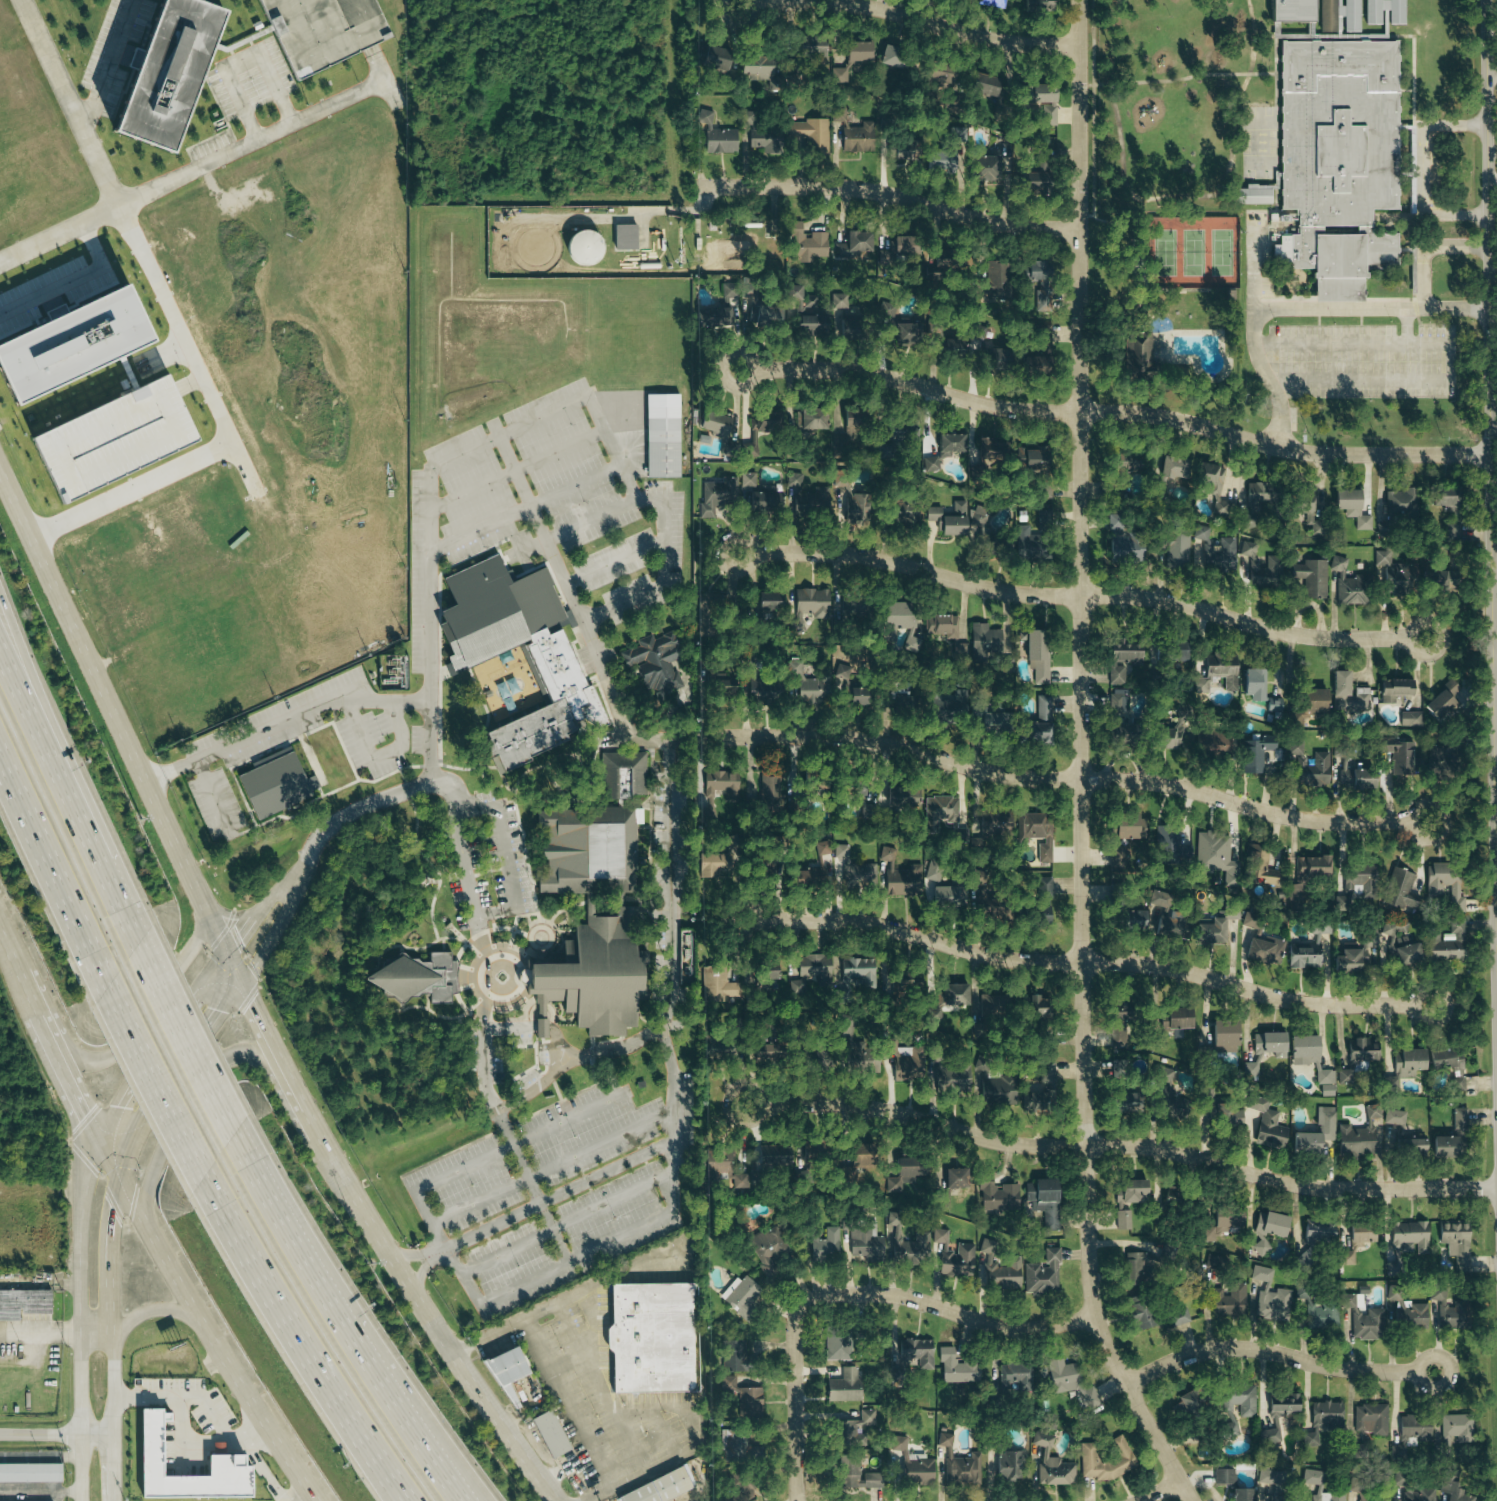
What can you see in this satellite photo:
building: (1336, 2)
building: (986, 4)
building: (1036, 6)
building: (1337, 15)
road: (909, 17)
building: (1394, 17)
building: (324, 30)
parking garage: (324, 30)
building: (712, 58)
building: (890, 58)
building: (845, 59)
road: (241, 62)
road: (106, 65)
building: (756, 70)
building: (169, 71)
road: (1492, 73)
building: (938, 74)
parking lot: (251, 76)
building: (981, 85)
building: (1038, 94)
building: (807, 135)
road: (270, 136)
building: (715, 137)
building: (956, 137)
building: (856, 139)
building: (764, 140)
building: (1339, 156)
road: (97, 162)
building: (983, 168)
road: (1425, 171)
building: (1035, 174)
road: (1493, 182)
road: (890, 194)
building: (1253, 195)
road: (681, 210)
building: (623, 237)
building: (851, 245)
building: (896, 246)
building: (806, 247)
road: (1458, 248)
building: (579, 249)
park: (1162, 256)
park: (1190, 256)
park: (1218, 256)
building: (714, 257)
road: (1427, 258)
building: (1036, 272)
road: (72, 282)
building: (996, 282)
road: (1493, 286)
park: (1170, 308)
building: (720, 309)
road: (1372, 309)
building: (801, 313)
building: (762, 317)
road: (1493, 317)
building: (843, 318)
road: (1407, 326)
building: (897, 330)
building: (1040, 335)
building: (61, 337)
road: (1253, 346)
building: (945, 347)
building: (1137, 354)
road: (1450, 354)
building: (1006, 362)
road: (581, 399)
road: (1114, 411)
building: (796, 418)
building: (812, 418)
building: (766, 420)
building: (713, 424)
road: (233, 427)
building: (894, 435)
building: (105, 437)
building: (663, 440)
building: (947, 444)
building: (1008, 453)
road: (513, 466)
building: (1170, 467)
road: (517, 468)
road: (574, 483)
building: (1210, 487)
building: (1040, 491)
building: (716, 494)
building: (756, 494)
building: (1256, 494)
road: (1490, 495)
building: (1443, 497)
building: (822, 498)
building: (1350, 507)
building: (1304, 509)
building: (933, 516)
building: (1041, 518)
building: (1452, 529)
road: (543, 533)
building: (1121, 541)
building: (1024, 545)
building: (1176, 548)
building: (1211, 552)
road: (615, 560)
building: (1261, 566)
road: (665, 570)
road: (1494, 571)
building: (1434, 574)
building: (1393, 575)
building: (1309, 577)
building: (1349, 583)
road: (1082, 595)
building: (766, 601)
building: (806, 606)
building: (850, 610)
building: (706, 614)
building: (895, 617)
building: (939, 624)
road: (1494, 632)
building: (983, 640)
building: (549, 653)
building: (1035, 658)
building: (1120, 660)
building: (651, 661)
building: (1220, 672)
building: (1251, 683)
building: (1200, 685)
building: (723, 687)
building: (812, 689)
building: (1393, 689)
building: (758, 691)
road: (343, 693)
building: (1346, 694)
building: (854, 695)
building: (1442, 699)
road: (39, 701)
building: (947, 701)
building: (1311, 701)
road: (320, 704)
building: (1040, 705)
building: (1272, 705)
building: (1115, 707)
road: (113, 716)
building: (1409, 718)
building: (986, 720)
road: (39, 729)
building: (1034, 733)
building: (1209, 742)
building: (1255, 753)
road: (379, 754)
building: (1398, 758)
road: (1495, 759)
road: (1080, 763)
building: (1437, 764)
building: (1307, 765)
building: (1353, 776)
road: (1060, 777)
building: (275, 785)
building: (716, 792)
building: (769, 792)
road: (213, 797)
building: (901, 797)
building: (939, 811)
building: (1121, 827)
building: (1020, 828)
building: (1169, 846)
building: (824, 849)
road: (505, 856)
building: (1114, 856)
building: (1214, 857)
building: (717, 860)
building: (1260, 867)
building: (1310, 867)
building: (850, 869)
road: (53, 878)
road: (108, 880)
building: (904, 881)
building: (1444, 885)
building: (1041, 886)
building: (1400, 891)
building: (947, 895)
building: (1293, 895)
building: (600, 899)
building: (1231, 912)
road: (222, 913)
building: (1040, 914)
road: (253, 915)
building: (1129, 919)
building: (1246, 919)
building: (1171, 926)
building: (1319, 928)
building: (1209, 930)
road: (479, 931)
road: (272, 936)
building: (1368, 936)
road: (1496, 940)
building: (1446, 943)
road: (6, 947)
building: (1263, 950)
building: (1403, 952)
traffic signals: (226, 955)
building: (1302, 956)
building: (1348, 959)
road: (1086, 962)
building: (813, 967)
building: (764, 971)
building: (857, 971)
road: (521, 974)
building: (416, 975)
building: (713, 982)
building: (950, 996)
building: (985, 1005)
building: (1174, 1020)
road: (536, 1026)
building: (1117, 1029)
building: (1223, 1033)
road: (186, 1038)
road: (121, 1039)
building: (1268, 1044)
building: (1361, 1049)
road: (189, 1050)
road: (277, 1051)
road: (55, 1053)
building: (759, 1053)
building: (1444, 1058)
road: (574, 1059)
building: (903, 1061)
building: (1310, 1061)
building: (1402, 1063)
building: (1124, 1064)
road: (671, 1065)
building: (861, 1065)
building: (1166, 1074)
building: (1045, 1075)
building: (1343, 1076)
building: (948, 1079)
road: (156, 1080)
road: (203, 1086)
building: (1456, 1086)
building: (991, 1090)
building: (1030, 1102)
building: (1123, 1102)
building: (1458, 1118)
building: (1265, 1123)
building: (1315, 1135)
building: (1402, 1135)
building: (1357, 1136)
traffic signals: (101, 1144)
road: (1121, 1144)
building: (1442, 1147)
road: (130, 1148)
road: (491, 1154)
building: (772, 1157)
road: (110, 1160)
building: (717, 1160)
road: (553, 1165)
building: (902, 1172)
traffic signals: (120, 1177)
building: (956, 1179)
building: (739, 1180)
building: (1132, 1191)
building: (1042, 1202)
road: (83, 1207)
building: (1121, 1220)
road: (567, 1221)
building: (1220, 1221)
building: (1266, 1232)
building: (939, 1237)
building: (1337, 1238)
building: (906, 1241)
building: (865, 1243)
building: (1405, 1243)
building: (823, 1244)
building: (1454, 1246)
building: (767, 1250)
road: (109, 1253)
road: (417, 1253)
road: (579, 1256)
building: (956, 1261)
building: (1213, 1262)
building: (998, 1267)
building: (1130, 1267)
road: (425, 1269)
building: (1041, 1274)
road: (277, 1297)
building: (1269, 1297)
building: (1229, 1301)
building: (24, 1303)
road: (946, 1309)
building: (1449, 1310)
road: (162, 1314)
road: (355, 1315)
building: (1409, 1315)
building: (1138, 1316)
building: (1177, 1316)
building: (1320, 1317)
building: (1360, 1319)
road: (436, 1328)
road: (58, 1331)
building: (654, 1335)
road: (213, 1342)
building: (834, 1347)
road: (1277, 1352)
building: (914, 1353)
building: (736, 1358)
building: (954, 1368)
building: (507, 1370)
road: (556, 1376)
building: (1061, 1376)
road: (114, 1382)
building: (842, 1386)
building: (957, 1391)
building: (1088, 1397)
building: (1237, 1400)
building: (748, 1403)
road: (794, 1403)
building: (1185, 1404)
road: (213, 1418)
building: (1370, 1420)
building: (1322, 1422)
building: (1274, 1423)
building: (1456, 1427)
road: (57, 1433)
road: (251, 1433)
building: (551, 1433)
building: (844, 1434)
building: (1410, 1434)
building: (148, 1438)
building: (944, 1443)
road: (380, 1459)
road: (387, 1459)
building: (1104, 1461)
building: (1048, 1463)
road: (114, 1464)
building: (1006, 1465)
building: (962, 1469)
building: (916, 1471)
building: (31, 1473)
building: (846, 1475)
building: (1222, 1477)
building: (1270, 1477)
building: (1312, 1477)
building: (659, 1487)
building: (1451, 1487)
road: (1162, 1491)
building: (1240, 1495)
building: (1417, 1495)
building: (1330, 1496)
road: (114, 1497)
road: (307, 1497)
building: (1371, 1500)

